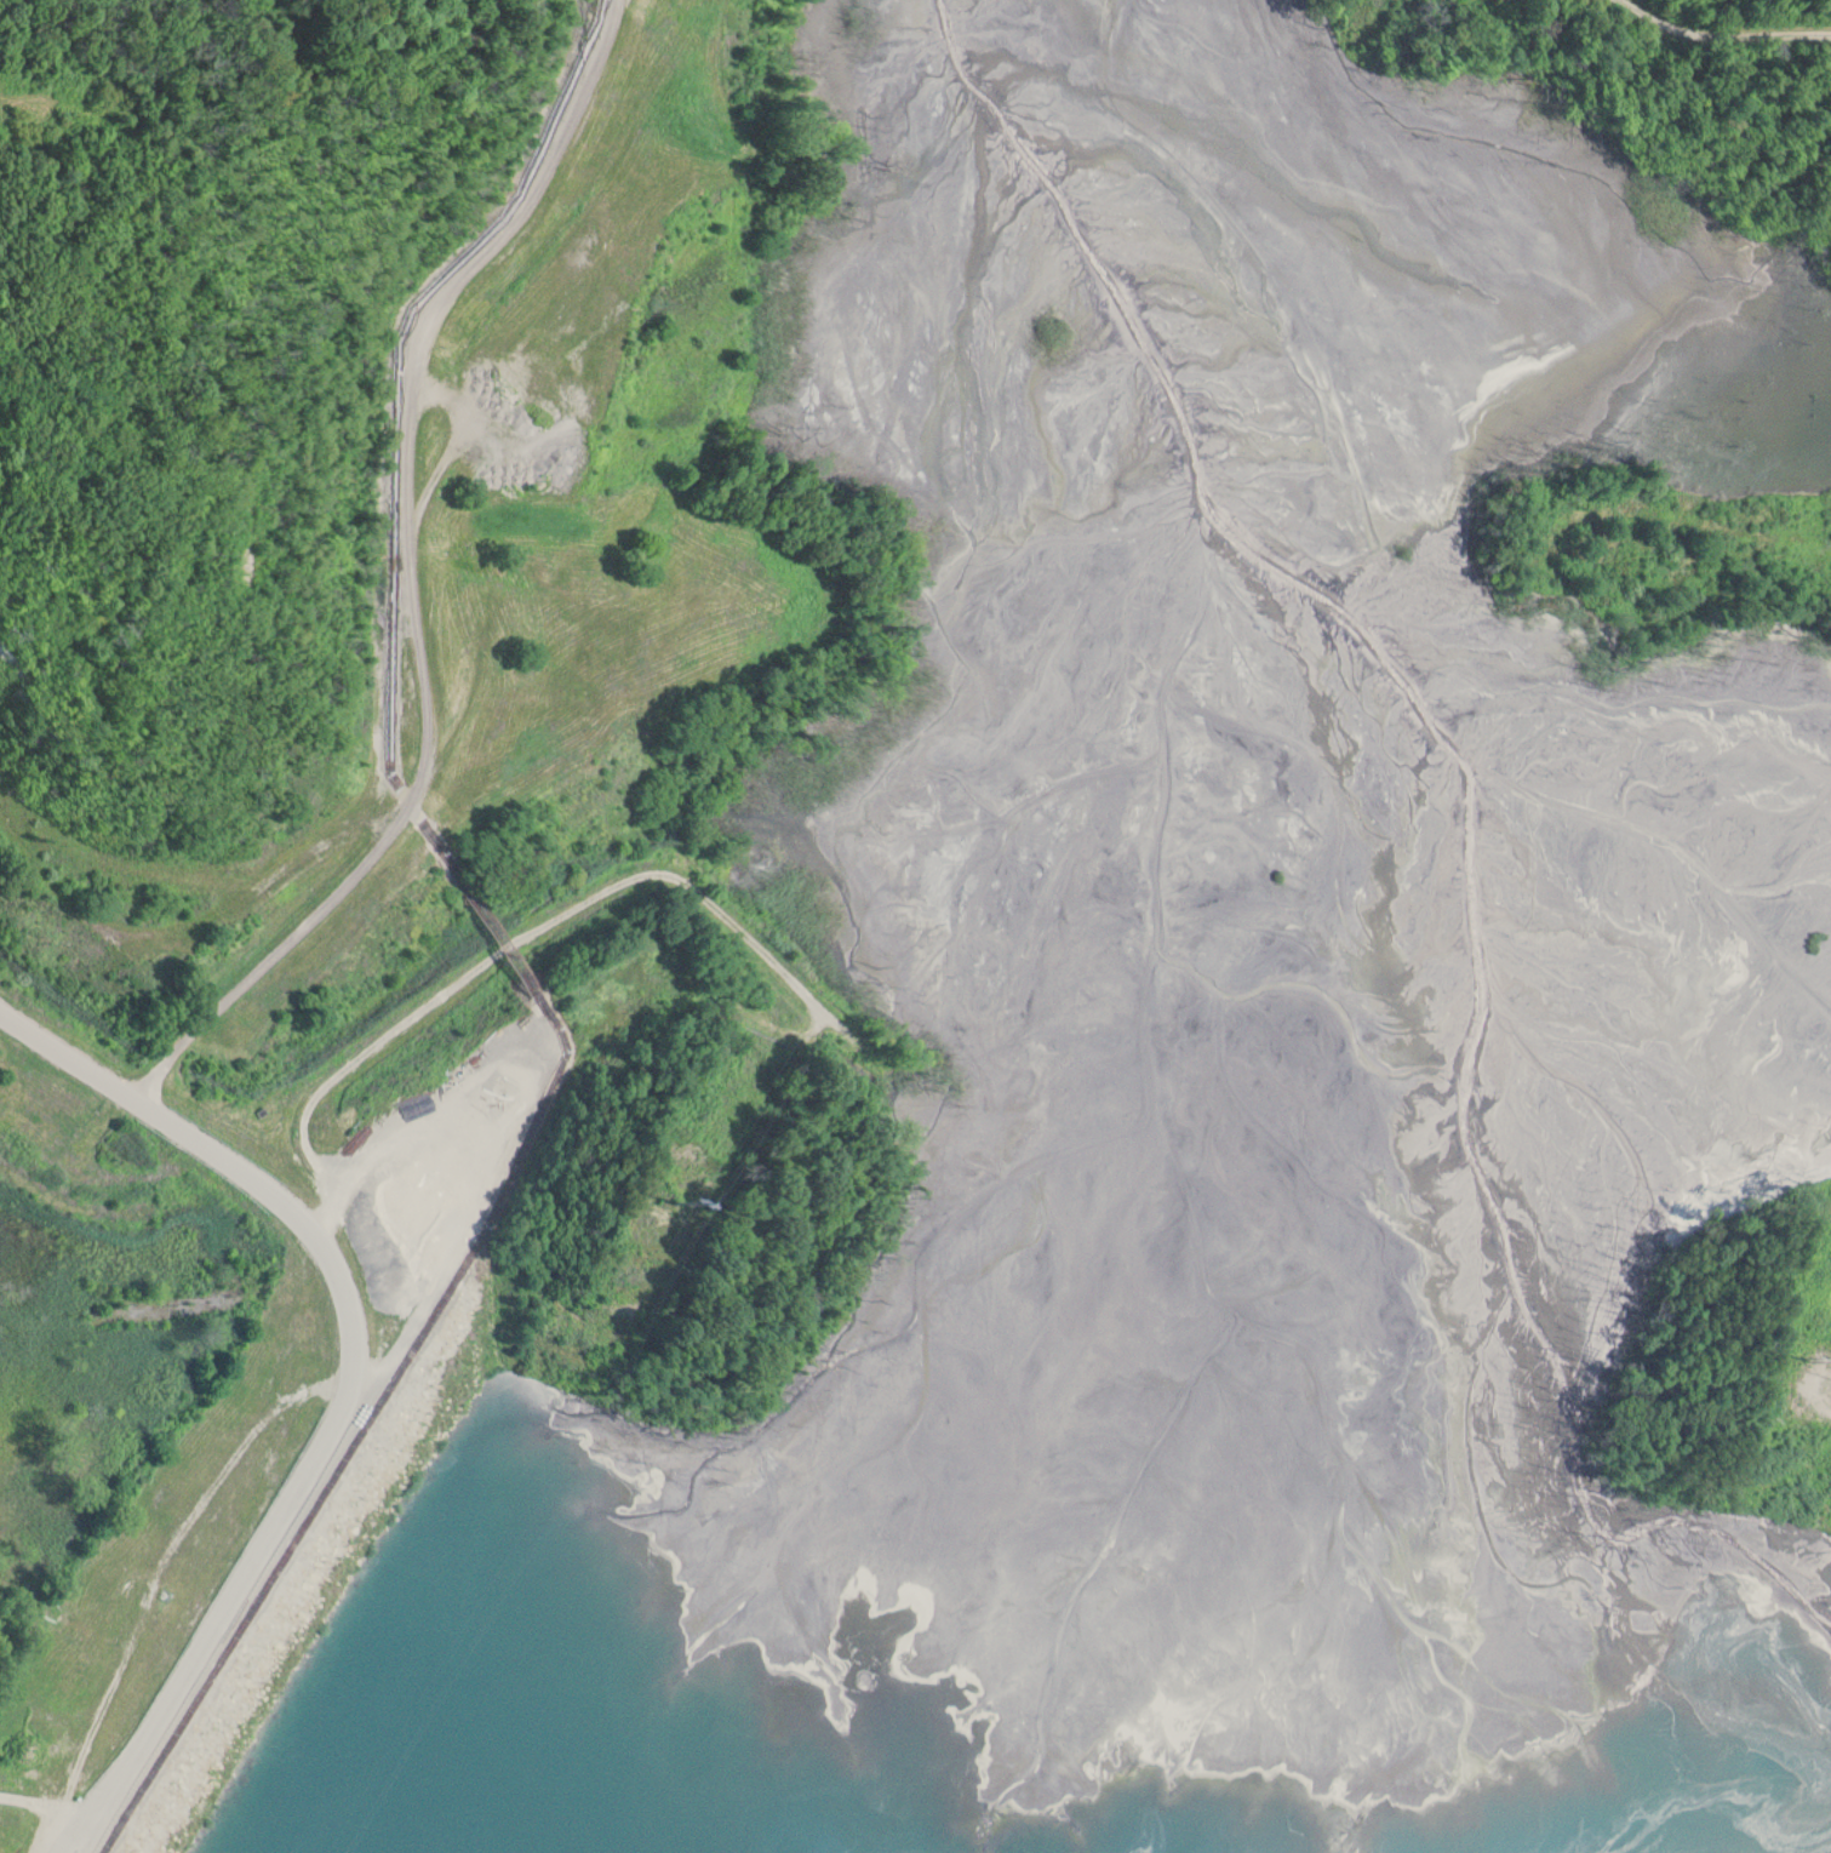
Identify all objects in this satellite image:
power tower: (662, 1213)
building: (265, 1463)

